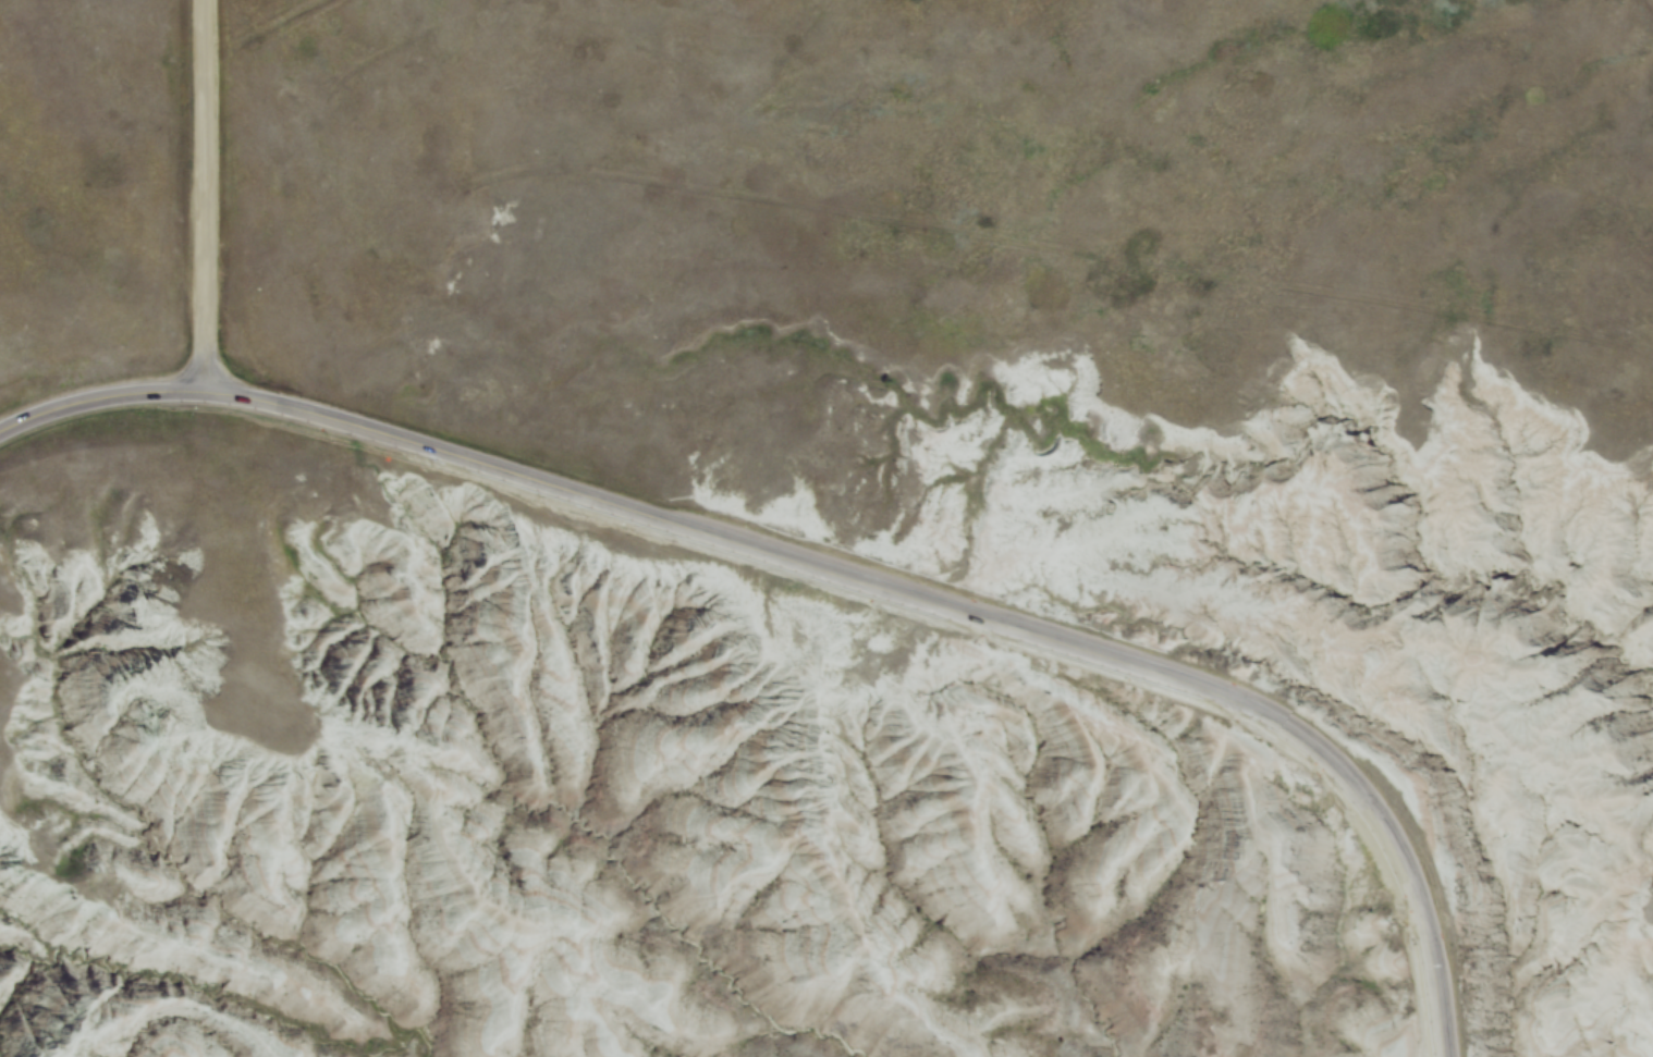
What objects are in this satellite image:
road: (199, 196)
road: (98, 393)
road: (932, 603)
parking lot: (1459, 980)

